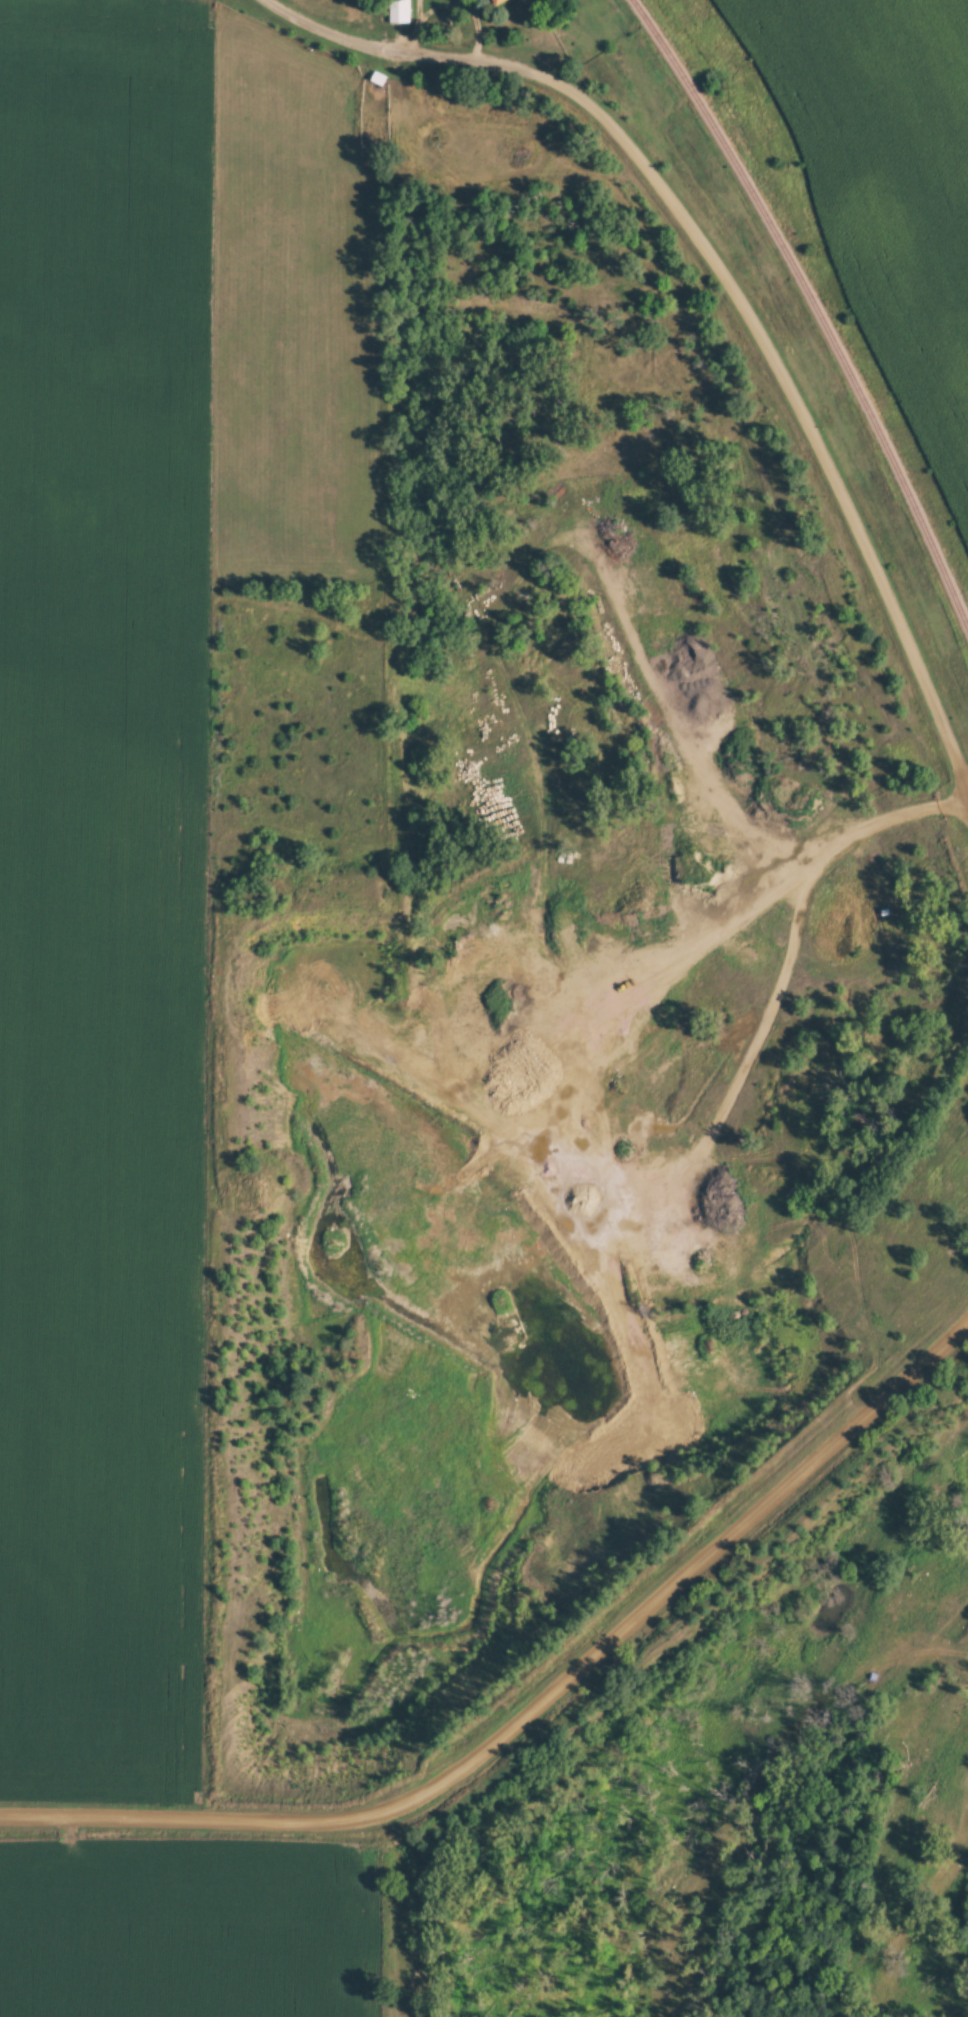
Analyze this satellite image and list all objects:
building: (497, 1)
road: (275, 2)
building: (397, 11)
road: (730, 285)
railway: (815, 307)
road: (682, 716)
road: (519, 1208)
road: (538, 1698)

